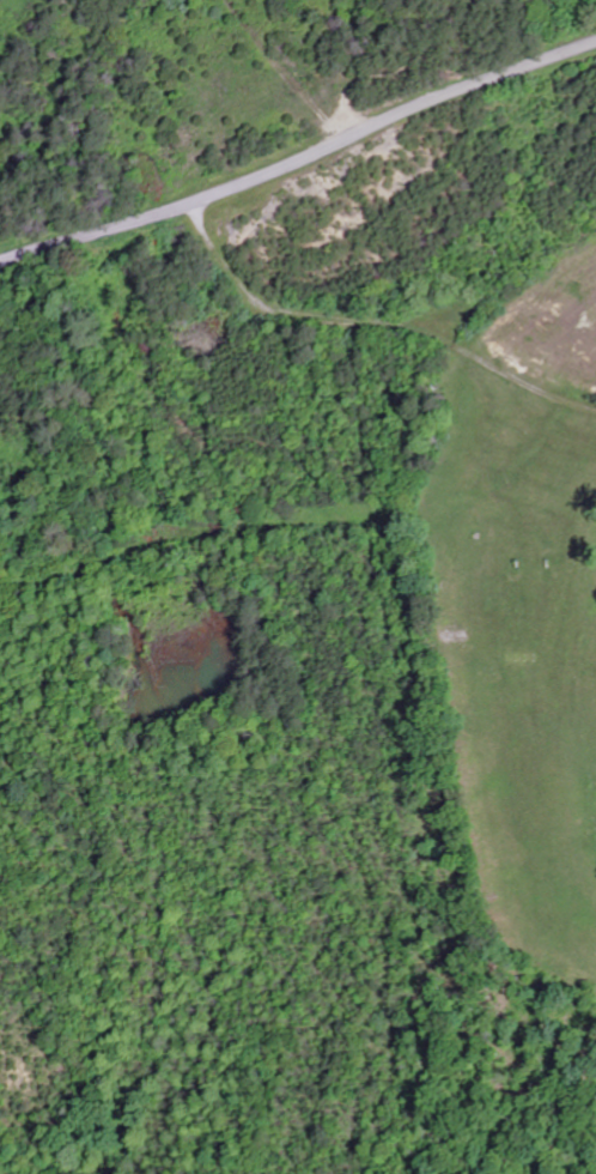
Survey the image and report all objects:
road: (390, 120)
road: (93, 231)
road: (372, 321)

